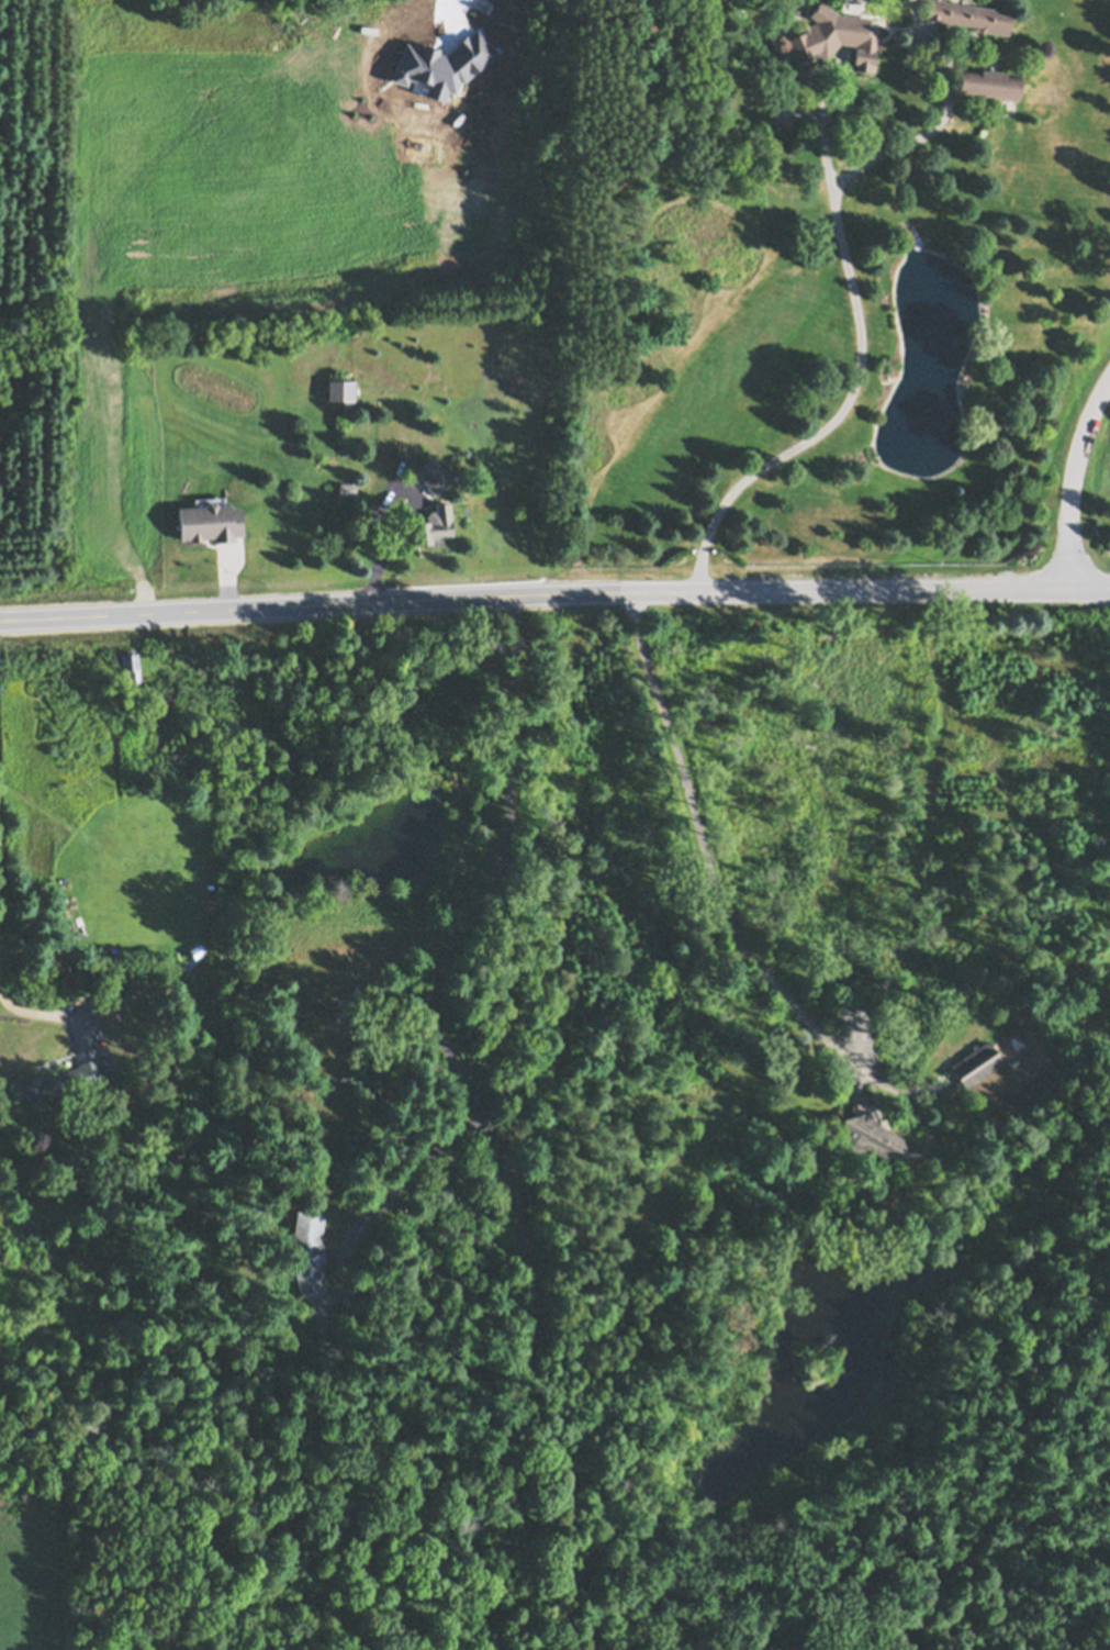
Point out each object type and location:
road: (446, 13)
building: (972, 14)
building: (836, 36)
building: (989, 83)
road: (855, 293)
building: (466, 414)
building: (434, 476)
road: (1070, 479)
building: (347, 489)
building: (211, 522)
building: (435, 525)
road: (832, 590)
road: (278, 607)
building: (132, 667)
building: (177, 693)
road: (708, 852)
road: (3, 916)
road: (444, 983)
building: (108, 1062)
building: (977, 1063)
building: (57, 1084)
building: (871, 1133)
building: (310, 1252)
road: (344, 1268)

